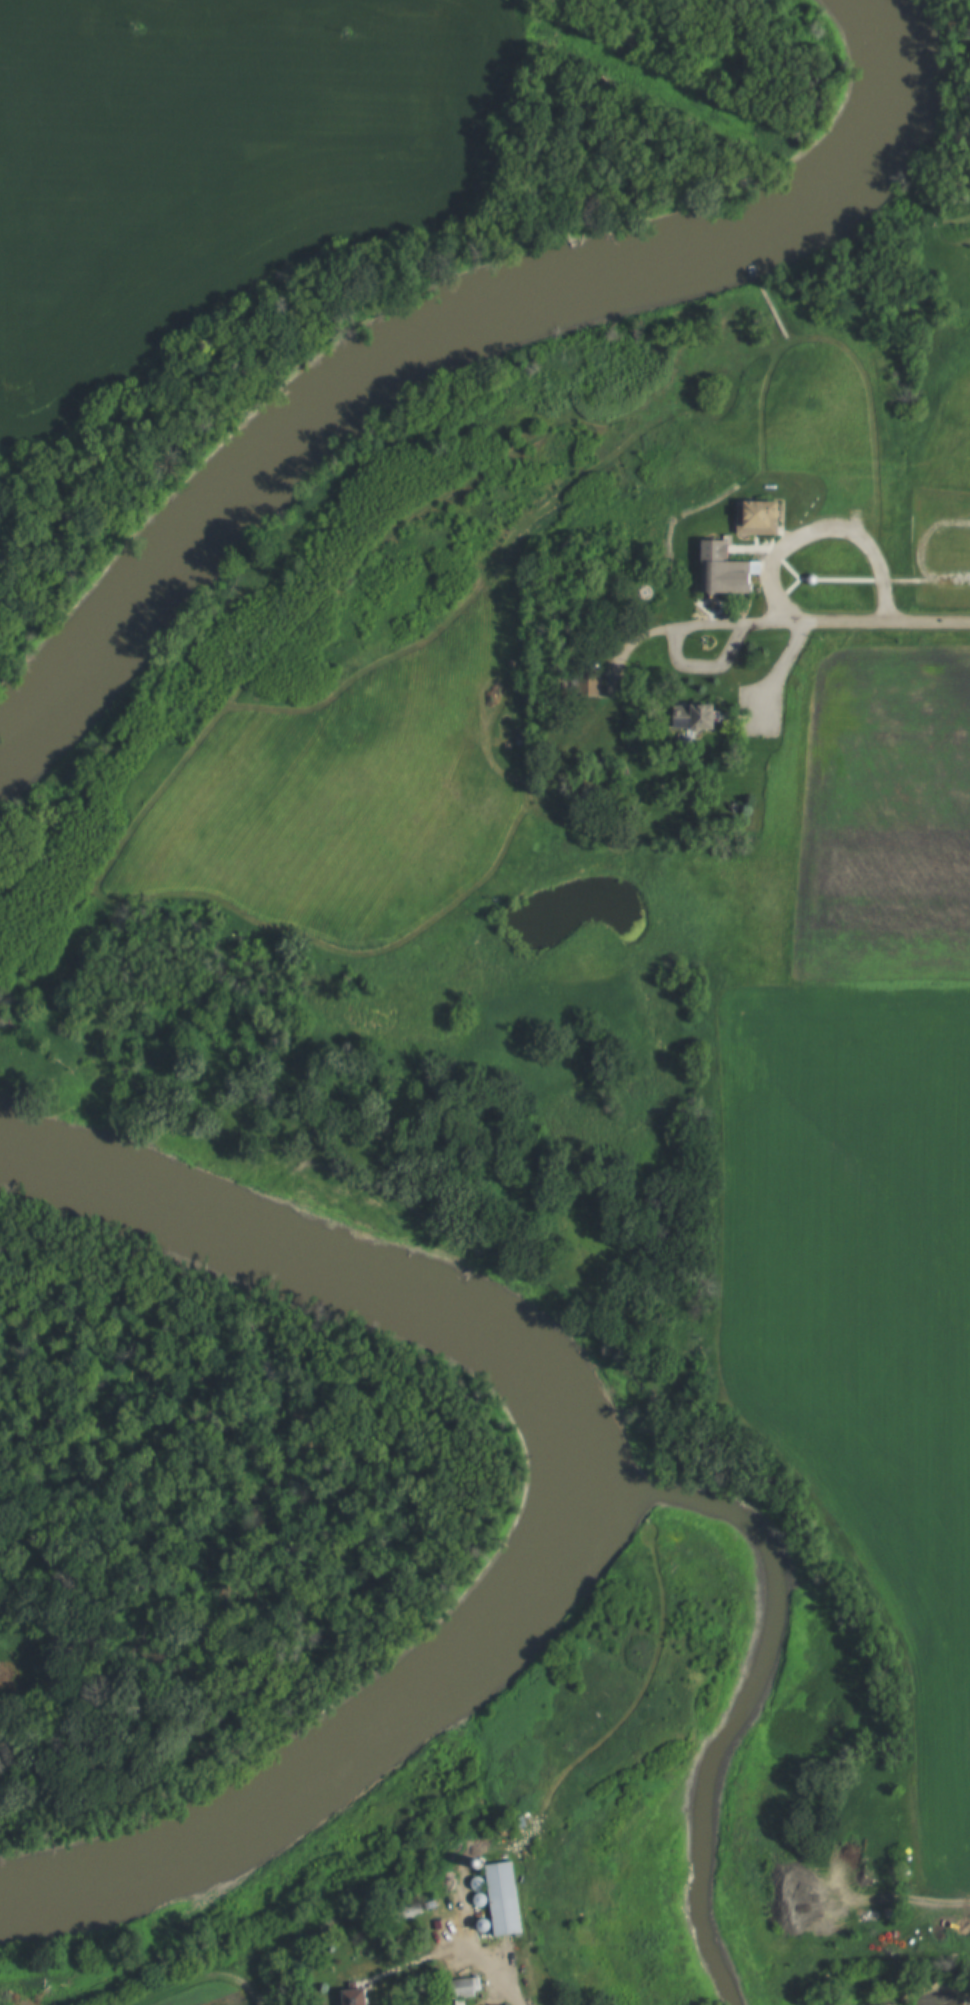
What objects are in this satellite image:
river: (860, 128)
road: (845, 346)
road: (638, 418)
river: (339, 419)
building: (758, 516)
road: (824, 530)
road: (924, 534)
road: (512, 535)
road: (789, 567)
building: (725, 568)
road: (826, 580)
road: (901, 580)
road: (925, 580)
road: (951, 580)
road: (711, 611)
road: (711, 618)
road: (856, 621)
road: (678, 659)
road: (779, 673)
building: (694, 716)
road: (195, 743)
crop: (887, 822)
river: (334, 1271)
crop: (864, 1313)
river: (345, 1774)
building: (502, 1896)
road: (479, 1964)
road: (197, 1977)
building: (465, 1987)
crop: (209, 1997)
building: (358, 1997)

